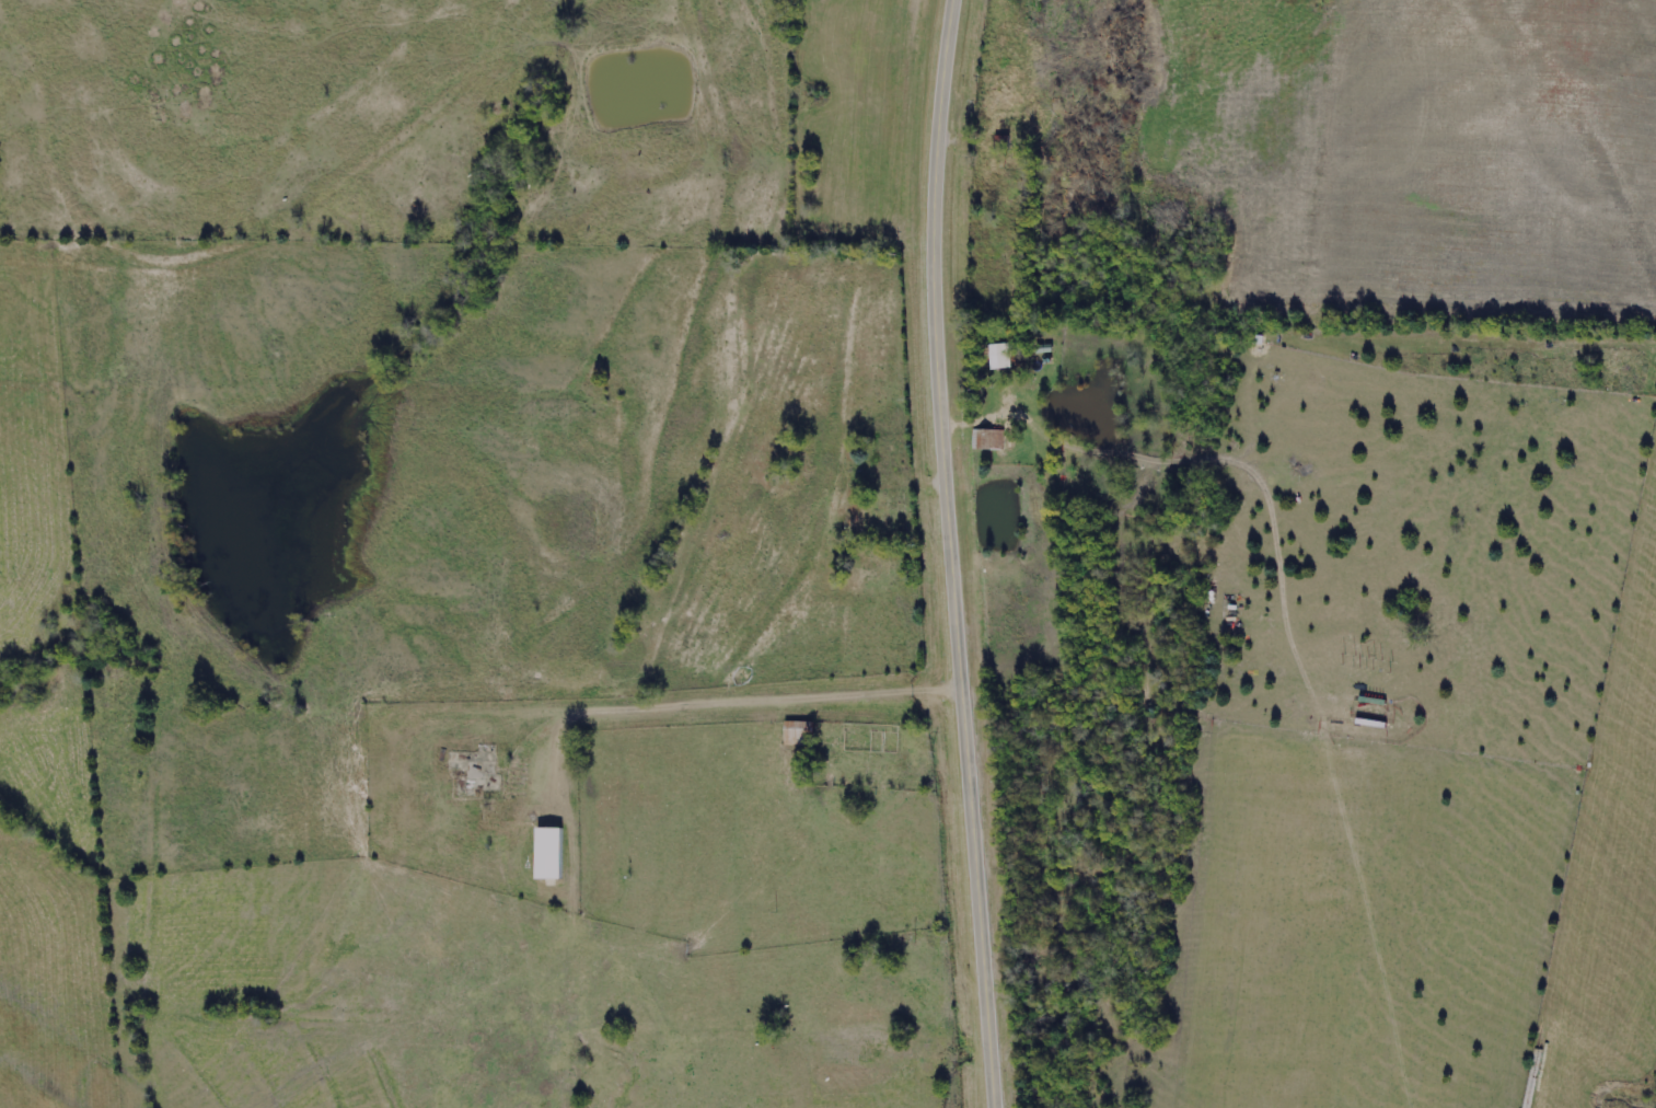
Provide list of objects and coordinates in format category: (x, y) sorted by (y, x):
building: (991, 189)
building: (1005, 356)
building: (989, 439)
road: (953, 554)
road: (721, 701)
building: (799, 735)
building: (552, 854)

